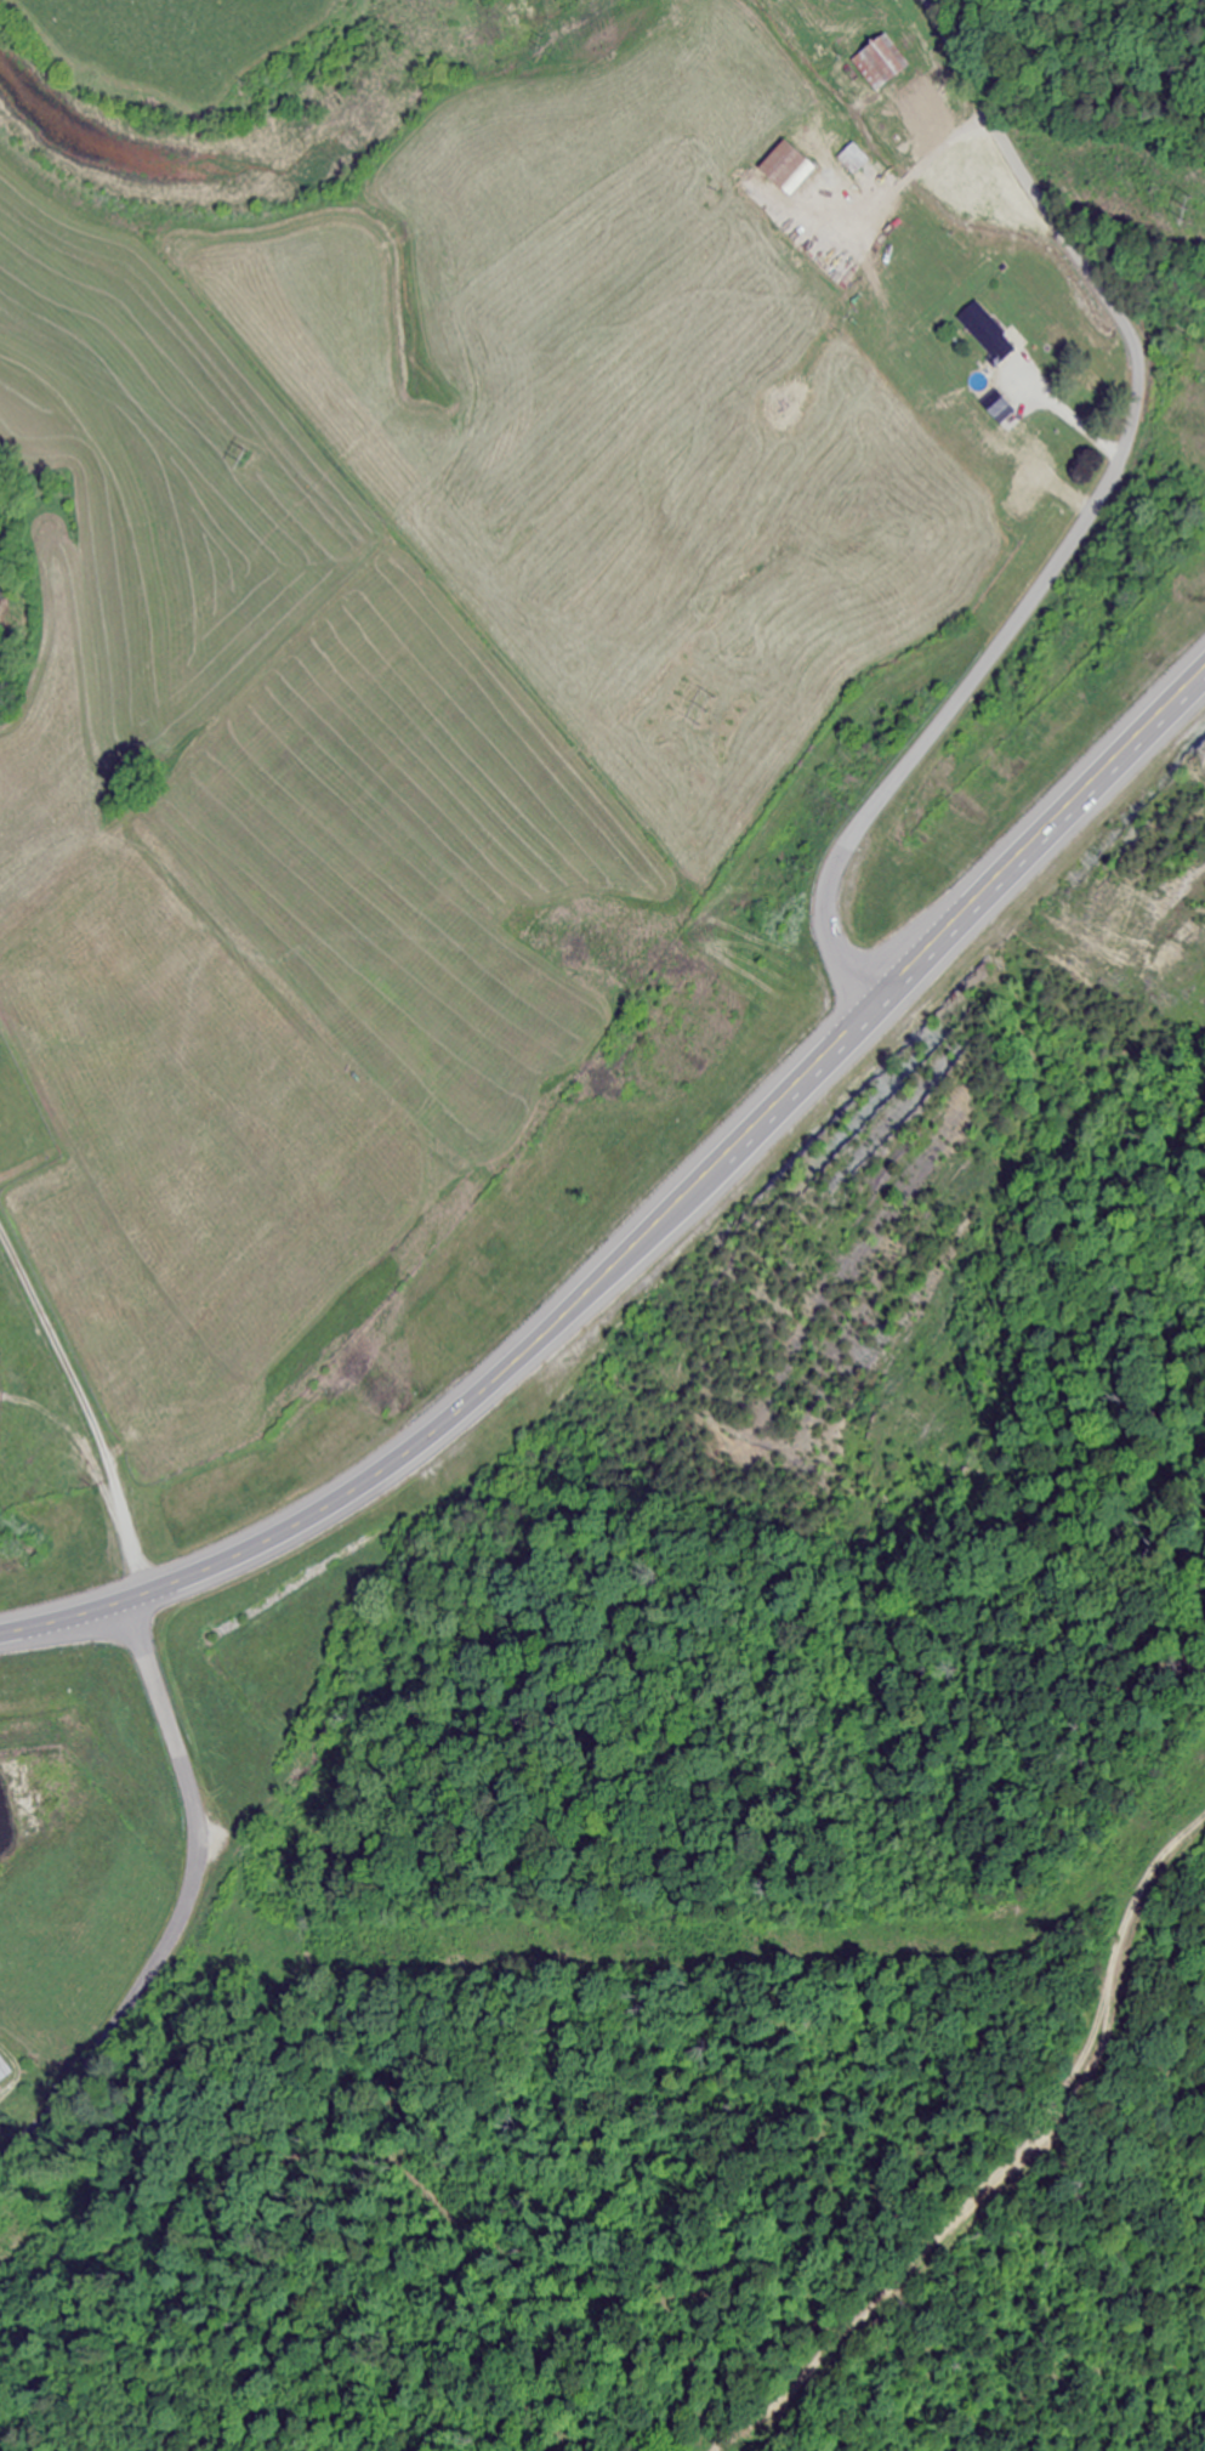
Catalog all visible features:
building: (886, 59)
building: (854, 160)
building: (789, 169)
building: (988, 334)
road: (1164, 337)
building: (999, 408)
building: (1036, 475)
building: (1021, 503)
road: (1086, 518)
building: (0, 1128)
road: (654, 1230)
road: (182, 1908)
building: (4, 2071)

